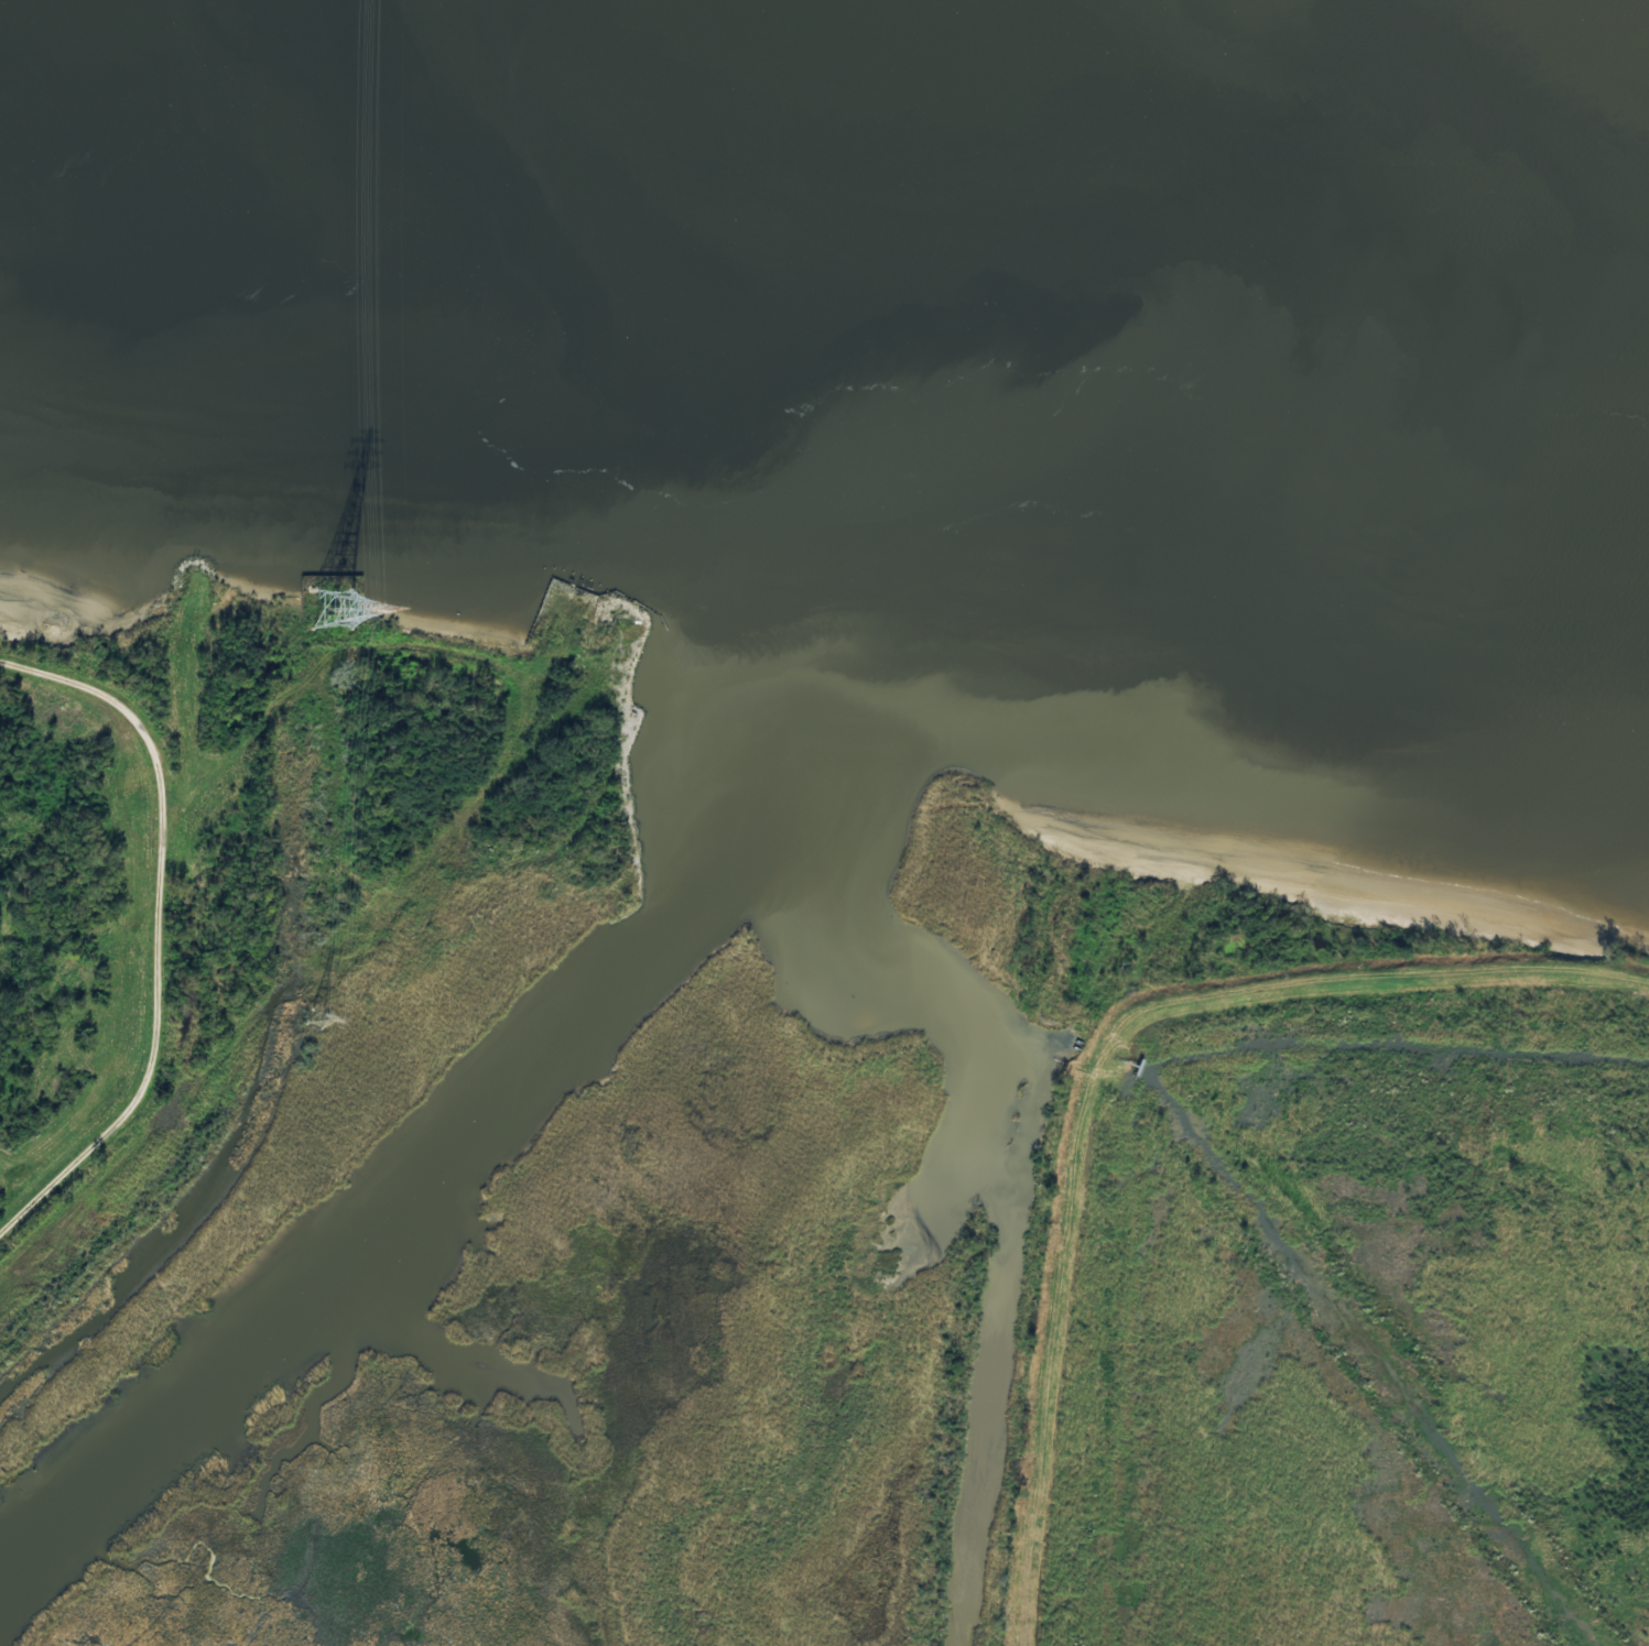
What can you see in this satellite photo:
river: (824, 265)
power tower: (332, 611)
power tower: (316, 1018)

